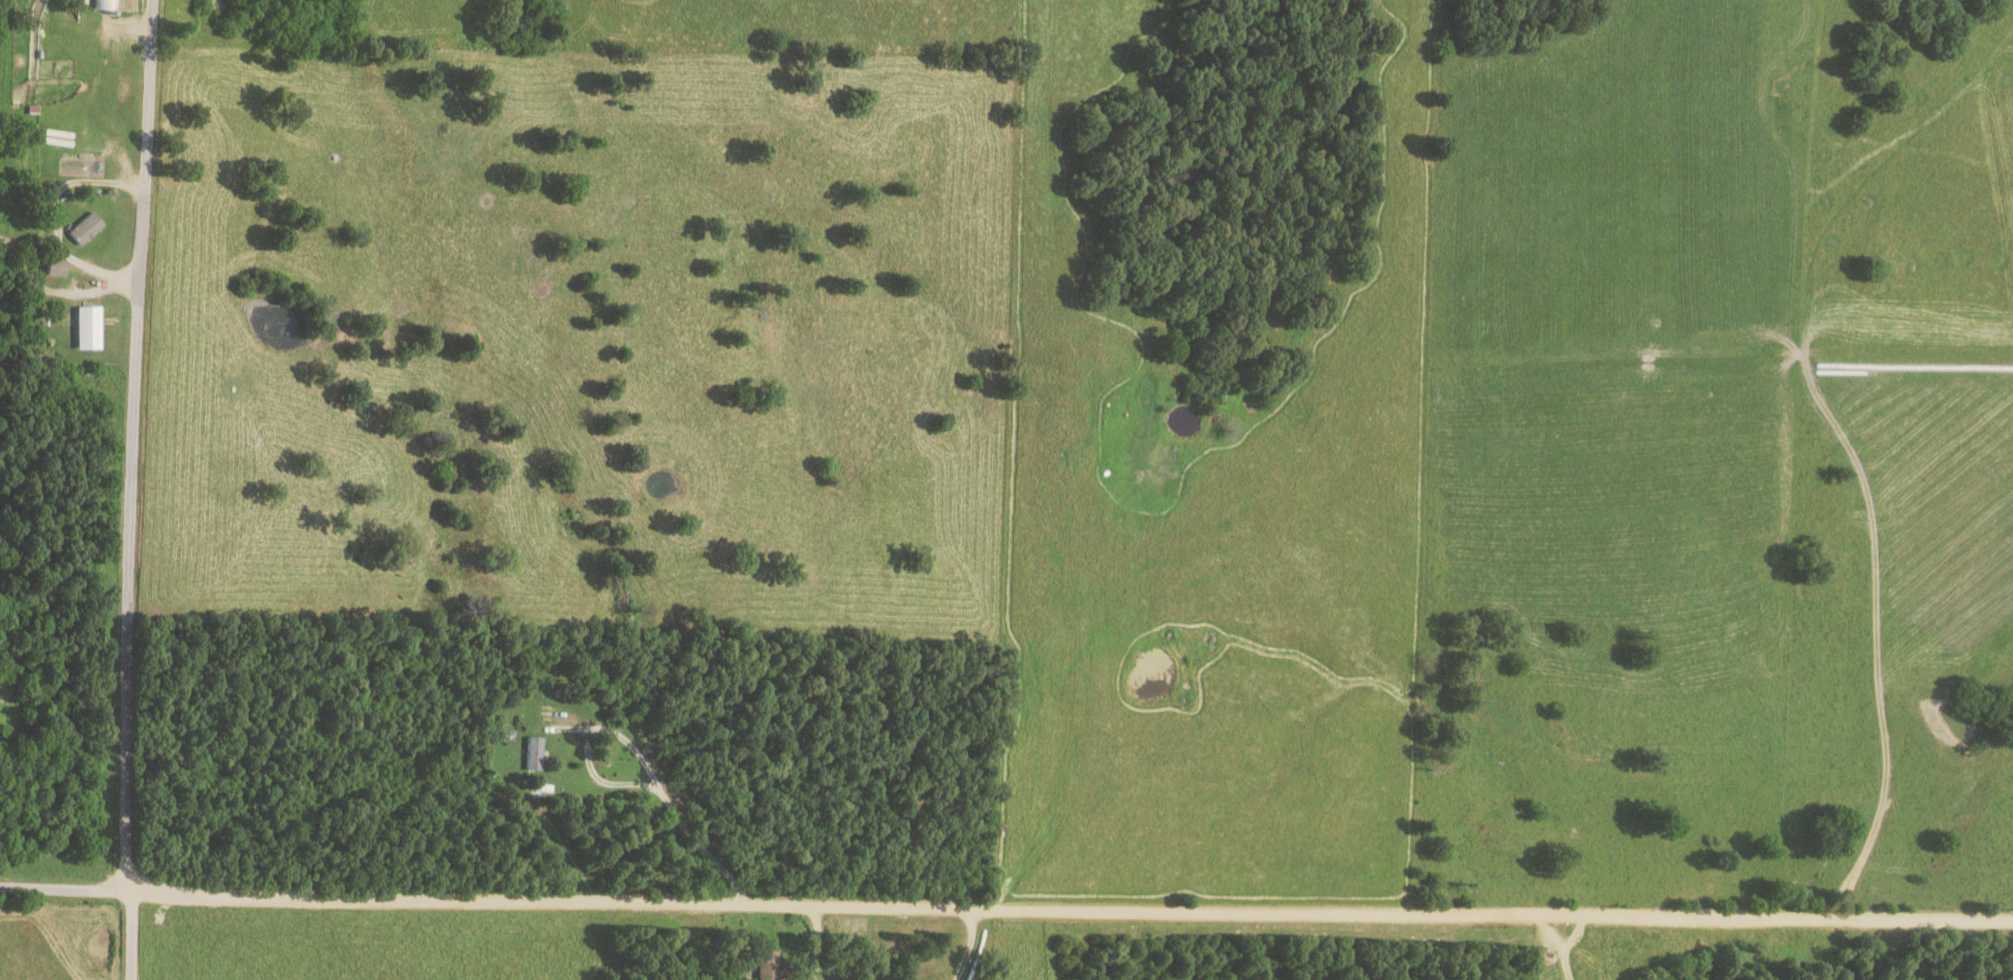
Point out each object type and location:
building: (105, 4)
building: (86, 228)
road: (67, 251)
building: (57, 269)
building: (89, 327)
road: (127, 489)
building: (534, 753)
road: (625, 783)
road: (1006, 911)
road: (1563, 946)
building: (770, 965)

